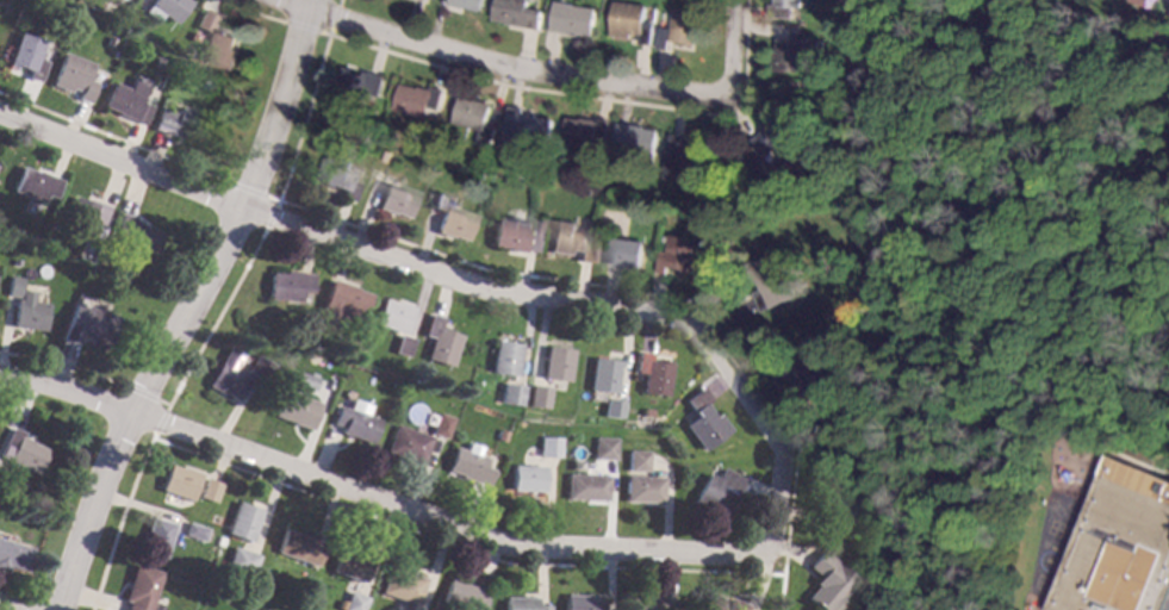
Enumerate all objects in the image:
building: (1145, 2)
building: (471, 4)
building: (784, 7)
building: (164, 8)
building: (521, 13)
road: (332, 15)
building: (577, 18)
road: (1158, 18)
building: (634, 20)
road: (1106, 20)
road: (301, 25)
building: (683, 29)
road: (323, 32)
building: (214, 42)
road: (909, 42)
building: (170, 43)
building: (820, 43)
road: (736, 50)
building: (791, 55)
building: (26, 56)
building: (156, 61)
road: (499, 67)
building: (71, 76)
road: (812, 81)
building: (203, 85)
building: (359, 86)
building: (418, 98)
building: (128, 101)
building: (478, 117)
road: (304, 118)
building: (180, 123)
building: (530, 126)
building: (587, 132)
building: (639, 138)
building: (784, 138)
building: (388, 155)
building: (686, 157)
building: (758, 168)
building: (337, 175)
building: (33, 183)
road: (245, 191)
building: (392, 199)
road: (719, 208)
building: (81, 216)
road: (268, 217)
building: (448, 218)
park: (1006, 232)
building: (511, 235)
building: (567, 238)
building: (135, 239)
road: (348, 242)
building: (624, 253)
building: (679, 254)
road: (483, 269)
building: (770, 276)
building: (61, 284)
building: (286, 286)
building: (340, 303)
road: (186, 305)
building: (24, 306)
building: (391, 316)
road: (213, 319)
building: (87, 325)
building: (436, 341)
building: (399, 346)
building: (500, 359)
road: (63, 365)
building: (552, 365)
building: (257, 368)
building: (225, 375)
building: (598, 375)
building: (647, 375)
building: (303, 381)
building: (810, 384)
building: (506, 394)
road: (145, 396)
building: (533, 397)
building: (293, 409)
building: (608, 410)
building: (699, 422)
road: (156, 424)
building: (353, 424)
road: (761, 430)
building: (434, 435)
building: (499, 435)
building: (406, 444)
building: (548, 447)
building: (603, 449)
building: (20, 452)
building: (635, 461)
building: (467, 465)
building: (1, 475)
building: (526, 479)
building: (176, 481)
building: (585, 487)
building: (206, 490)
building: (641, 490)
building: (715, 493)
building: (835, 500)
road: (373, 502)
park: (1053, 511)
building: (240, 521)
building: (191, 531)
building: (154, 536)
building: (216, 541)
building: (1118, 544)
building: (297, 548)
building: (12, 555)
building: (238, 561)
building: (348, 565)
road: (785, 565)
building: (826, 583)
building: (399, 585)
building: (138, 587)
building: (460, 596)
building: (640, 600)
building: (348, 602)
building: (580, 602)
building: (520, 603)
building: (720, 604)
road: (5, 608)
building: (412, 609)

